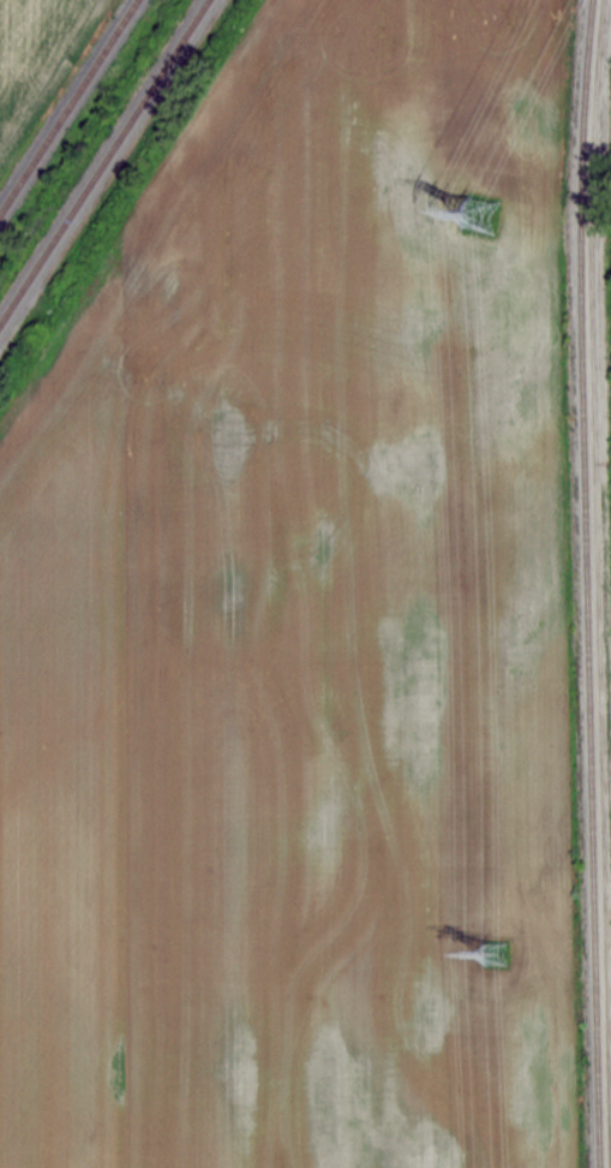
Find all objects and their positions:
railway: (598, 31)
railway: (67, 105)
railway: (102, 160)
power tower: (484, 214)
railway: (585, 583)
railway: (595, 615)
crop: (305, 626)
power tower: (480, 946)

